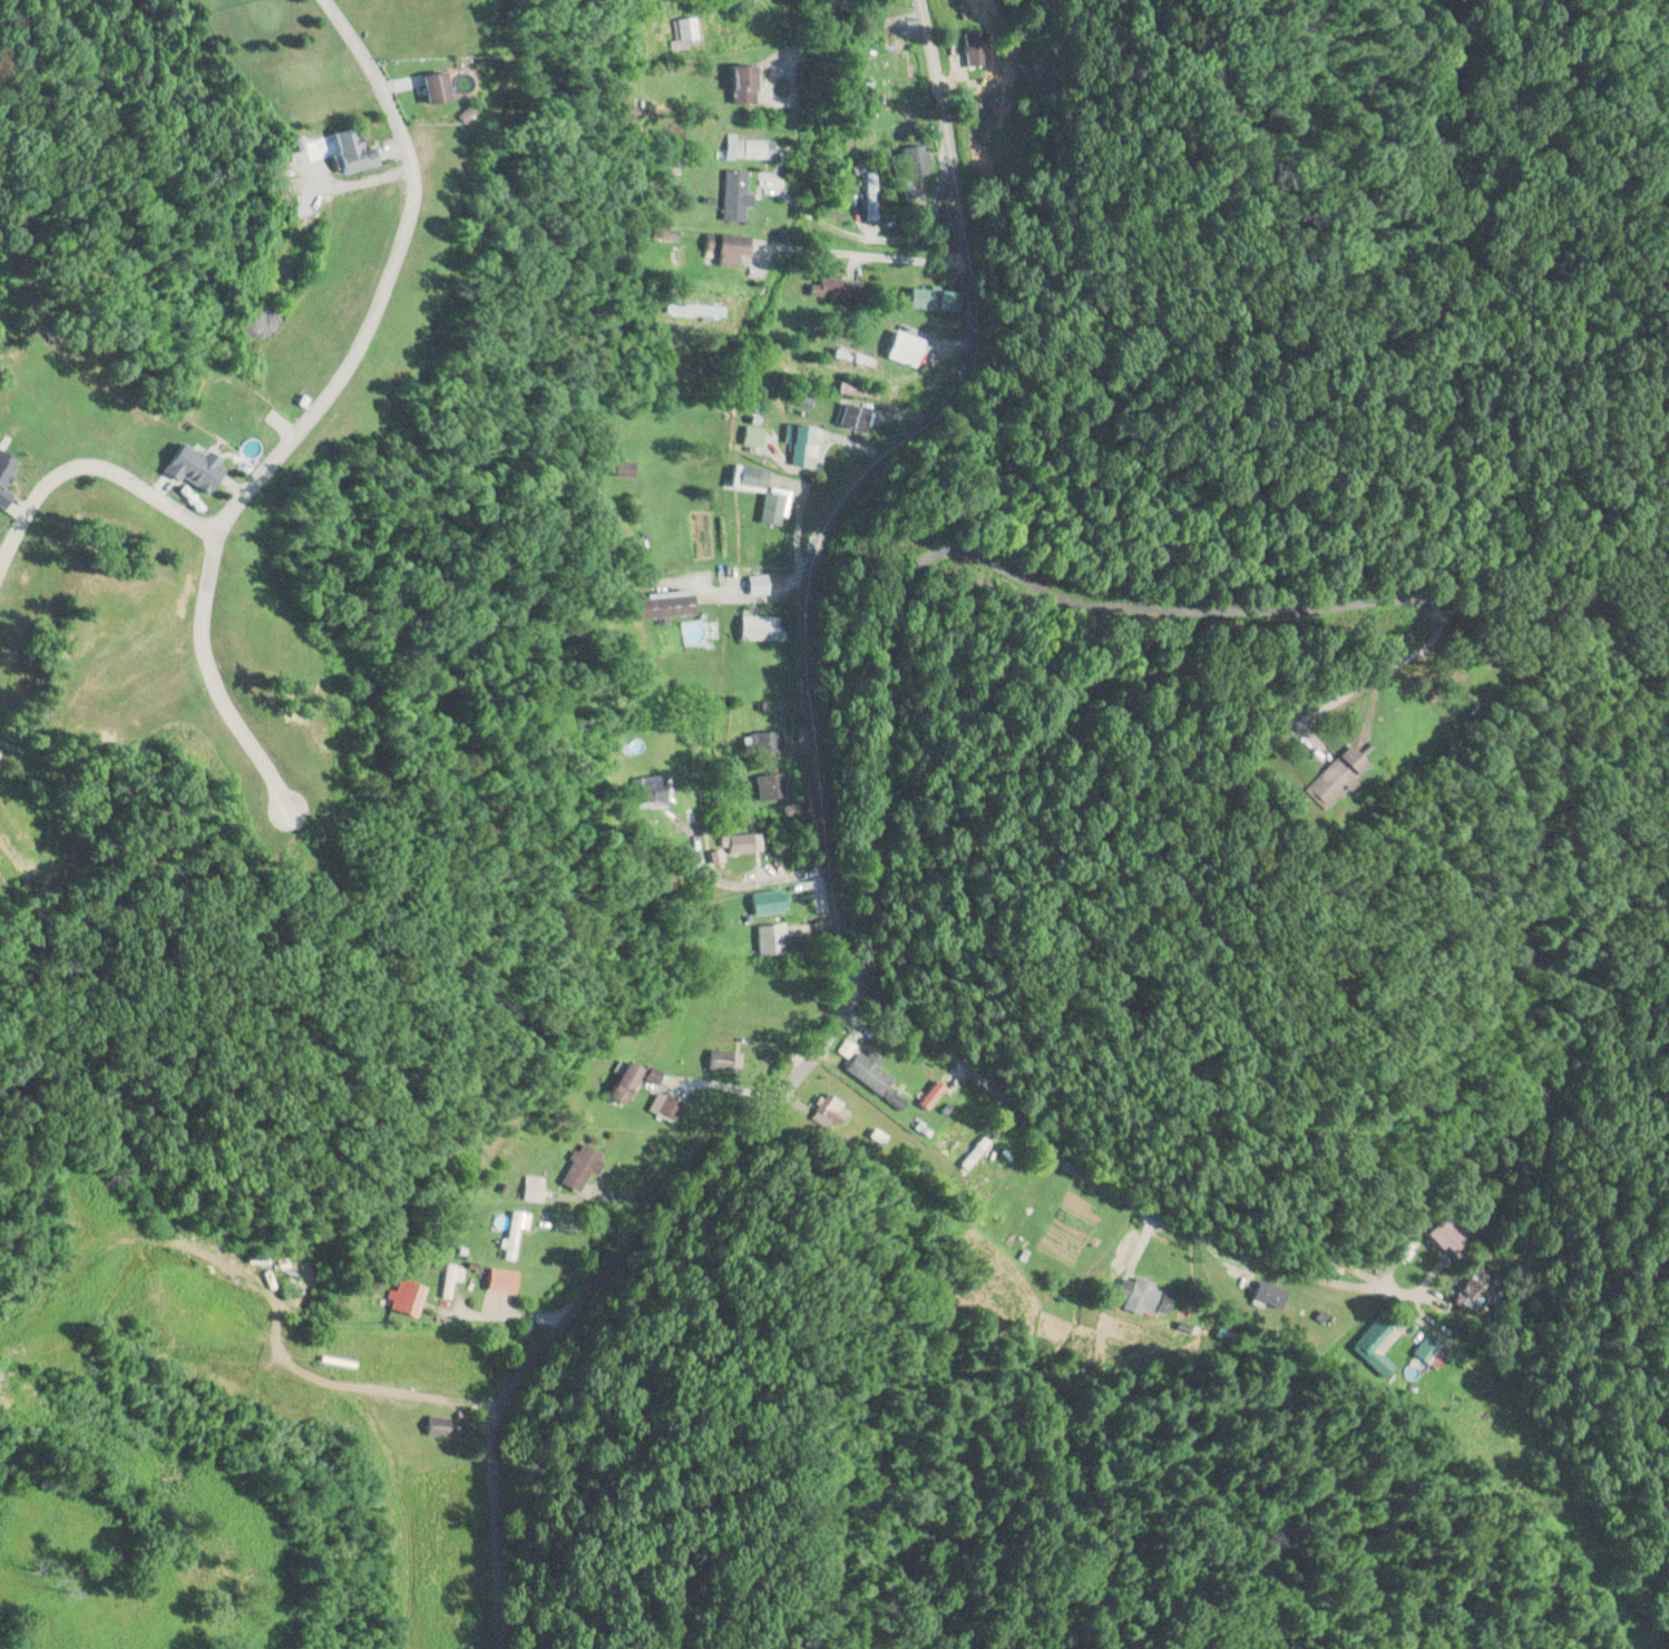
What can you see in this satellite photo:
building: (685, 29)
building: (976, 48)
building: (734, 84)
building: (426, 87)
building: (749, 148)
building: (348, 150)
building: (911, 160)
building: (732, 195)
building: (723, 247)
road: (850, 252)
road: (946, 258)
road: (964, 258)
building: (836, 287)
building: (933, 299)
building: (900, 348)
road: (310, 410)
building: (852, 417)
building: (749, 436)
building: (801, 446)
road: (91, 464)
building: (185, 467)
building: (617, 468)
building: (743, 477)
building: (772, 505)
building: (755, 584)
building: (660, 604)
building: (755, 627)
building: (764, 741)
building: (1333, 777)
building: (769, 784)
building: (650, 791)
building: (793, 811)
building: (739, 842)
road: (826, 857)
road: (725, 880)
building: (765, 901)
building: (770, 938)
building: (784, 993)
building: (862, 1070)
building: (619, 1082)
building: (929, 1097)
building: (667, 1108)
building: (955, 1129)
building: (973, 1152)
building: (578, 1168)
road: (1094, 1178)
building: (529, 1188)
building: (1445, 1235)
building: (508, 1248)
building: (447, 1279)
building: (1475, 1287)
building: (1269, 1294)
building: (1143, 1295)
building: (401, 1296)
building: (1375, 1343)
building: (1429, 1350)
building: (432, 1425)

